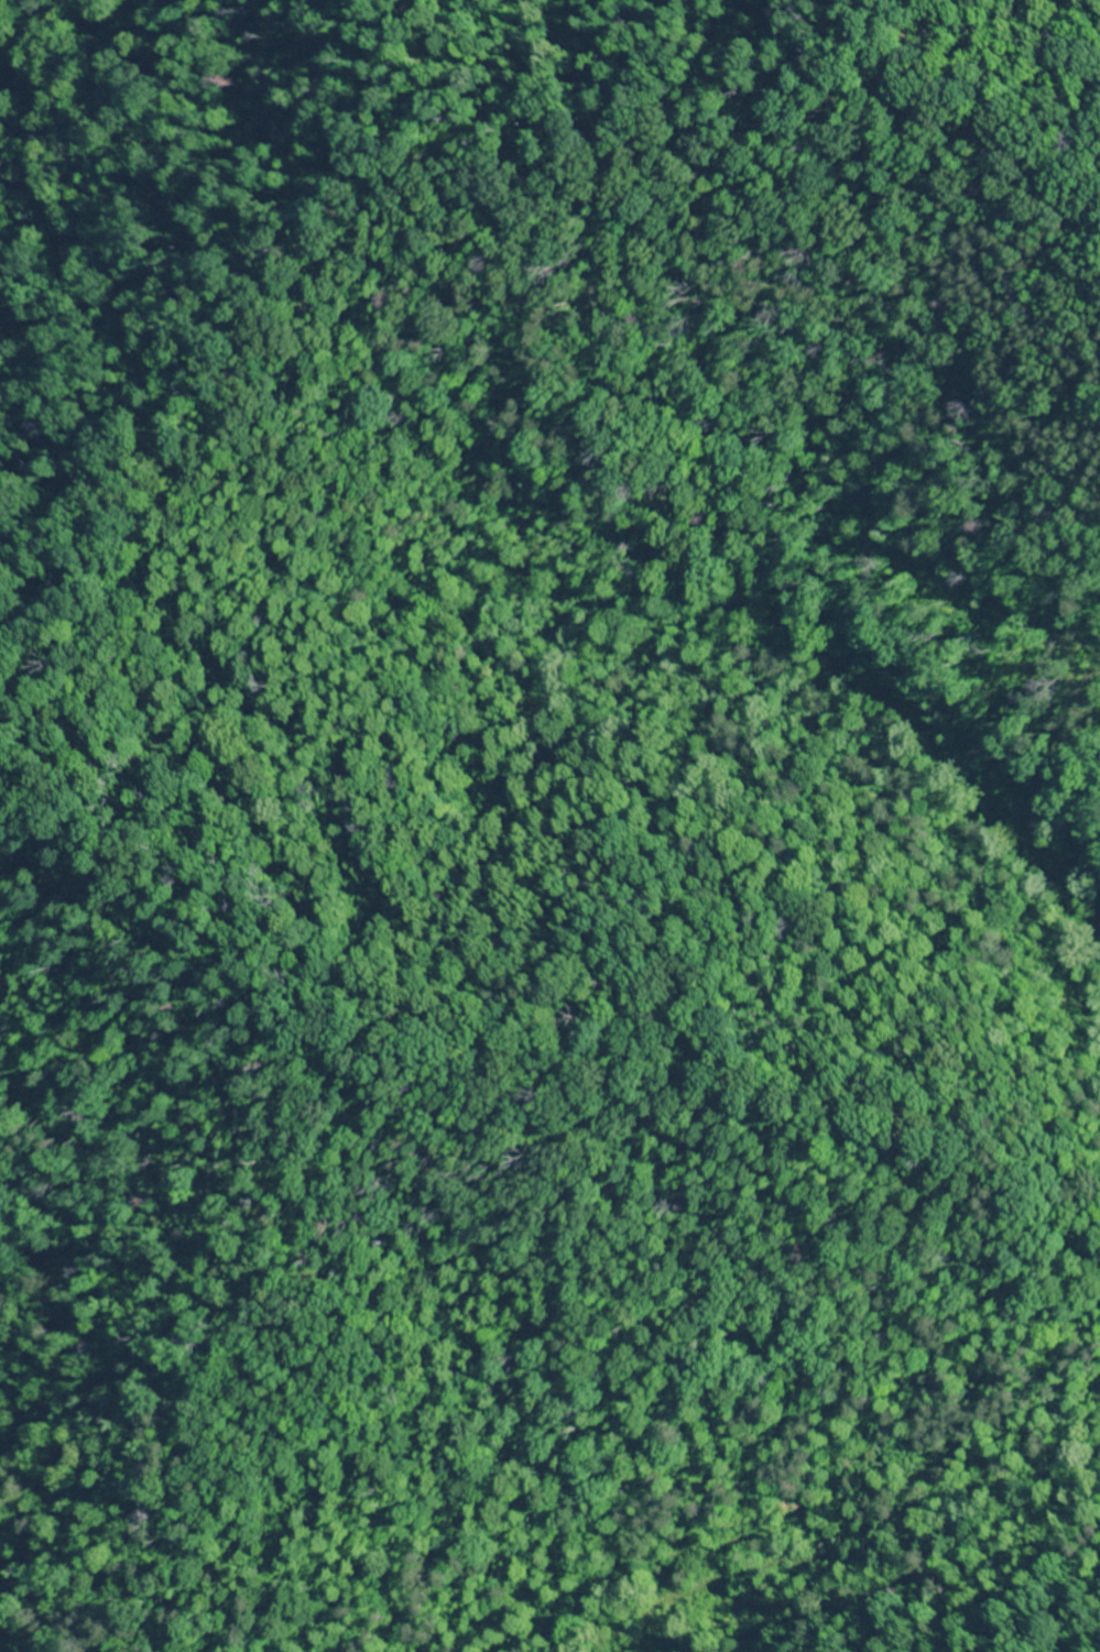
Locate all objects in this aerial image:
road: (911, 1576)

